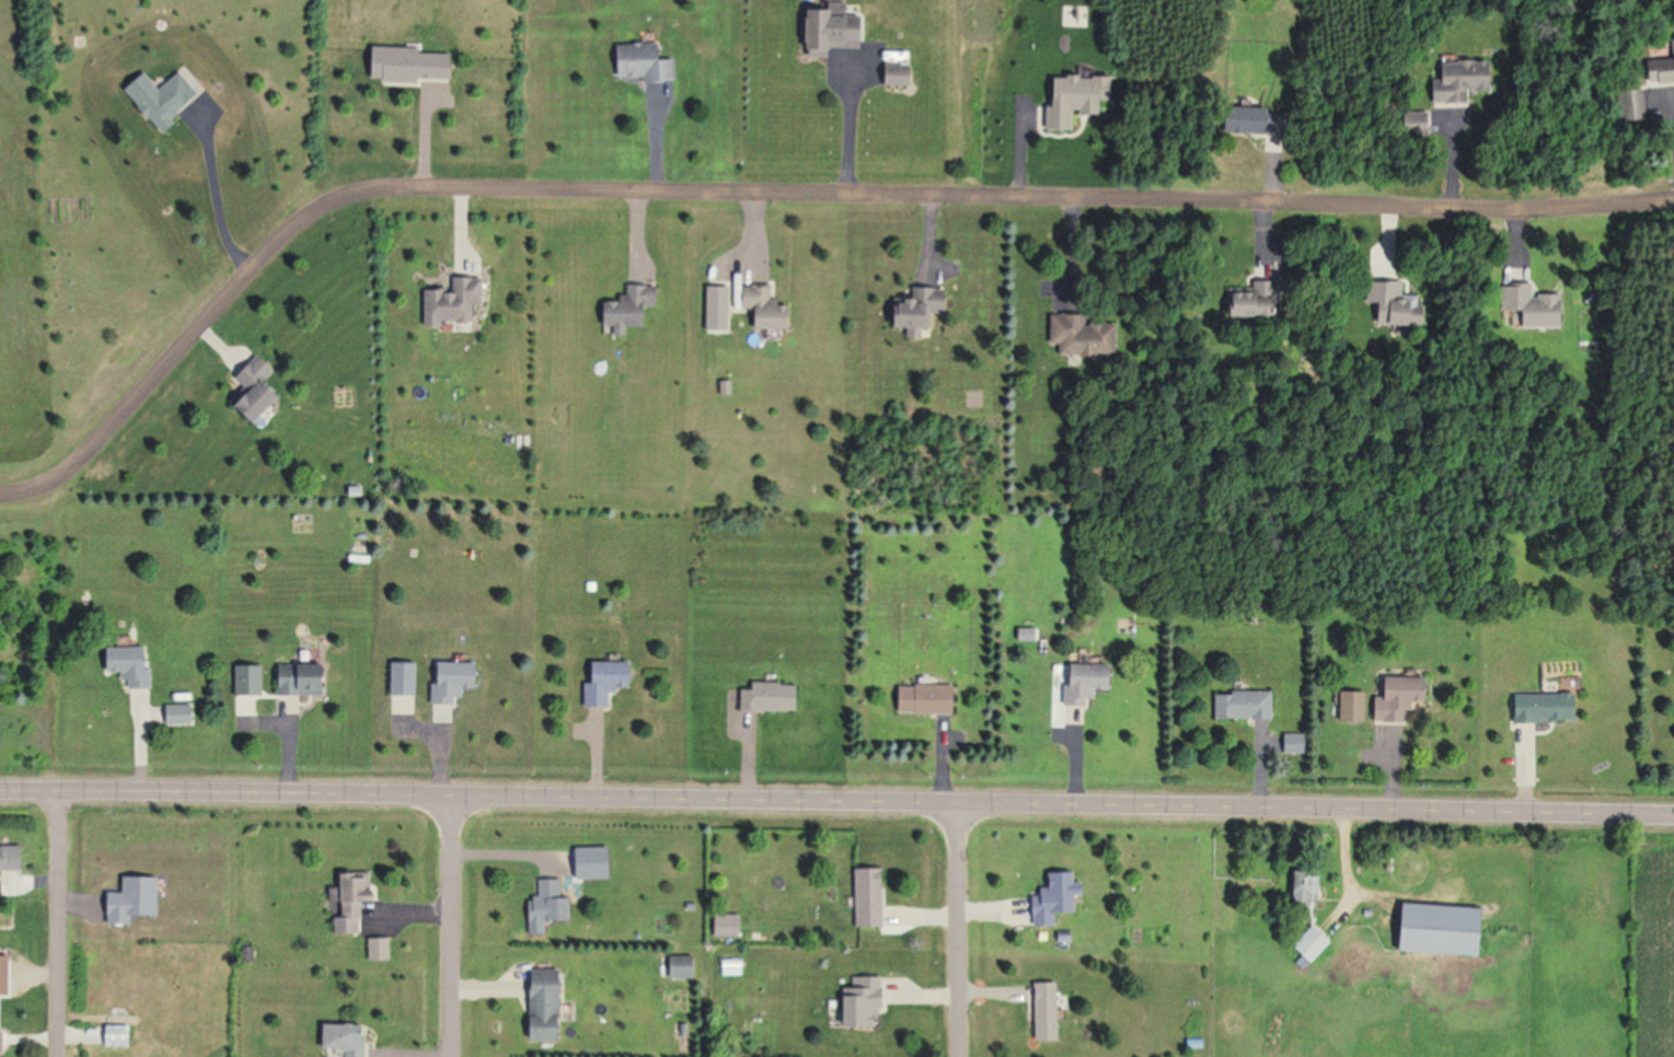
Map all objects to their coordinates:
building: (838, 30)
building: (644, 61)
building: (416, 65)
building: (1658, 72)
building: (1454, 79)
building: (1627, 103)
building: (1245, 118)
road: (1671, 118)
road: (845, 128)
road: (222, 196)
road: (777, 198)
building: (1246, 299)
building: (1384, 302)
building: (766, 304)
building: (452, 305)
building: (635, 305)
building: (925, 305)
building: (1527, 305)
building: (1074, 335)
building: (259, 388)
building: (134, 663)
building: (302, 677)
building: (406, 677)
building: (251, 678)
building: (454, 679)
building: (609, 679)
building: (1080, 679)
building: (773, 695)
building: (930, 698)
building: (1373, 704)
building: (1238, 705)
building: (1538, 705)
building: (178, 715)
building: (1291, 743)
road: (836, 800)
building: (14, 858)
building: (354, 887)
building: (1301, 888)
building: (871, 896)
building: (1058, 897)
building: (552, 901)
building: (348, 924)
road: (57, 926)
road: (451, 926)
road: (956, 929)
building: (1435, 929)
crop: (1654, 940)
building: (1307, 942)
building: (683, 965)
building: (867, 1002)
building: (547, 1003)
building: (1048, 1010)
building: (120, 1034)
building: (2, 1041)

